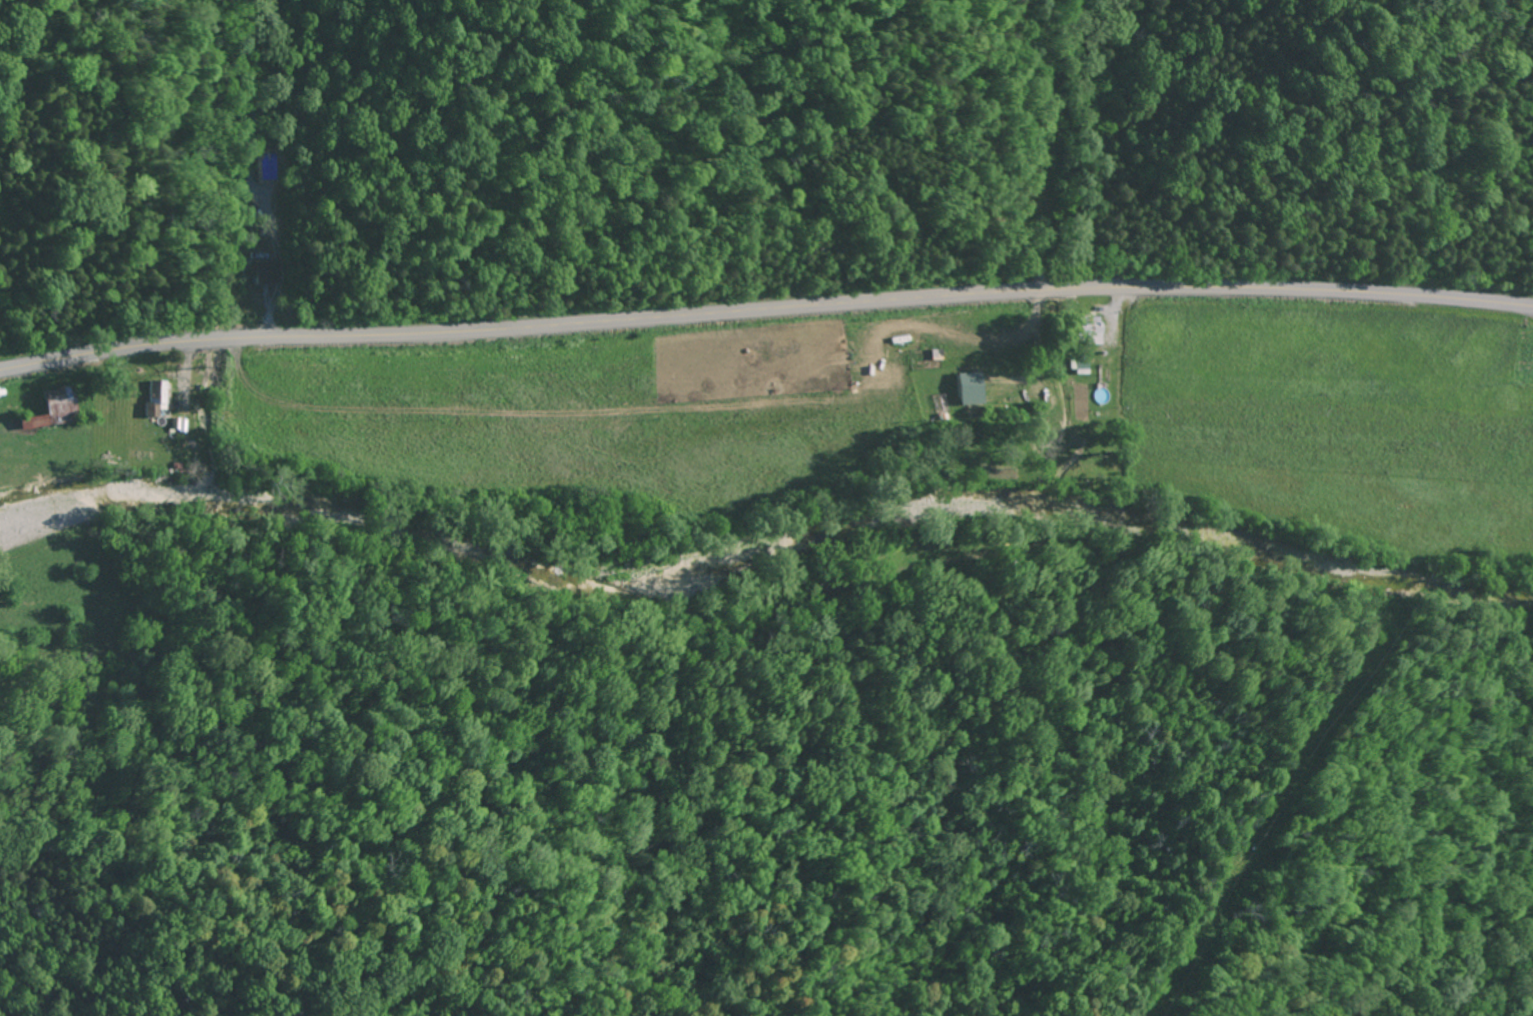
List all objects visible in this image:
road: (765, 310)
building: (968, 388)
building: (53, 412)

